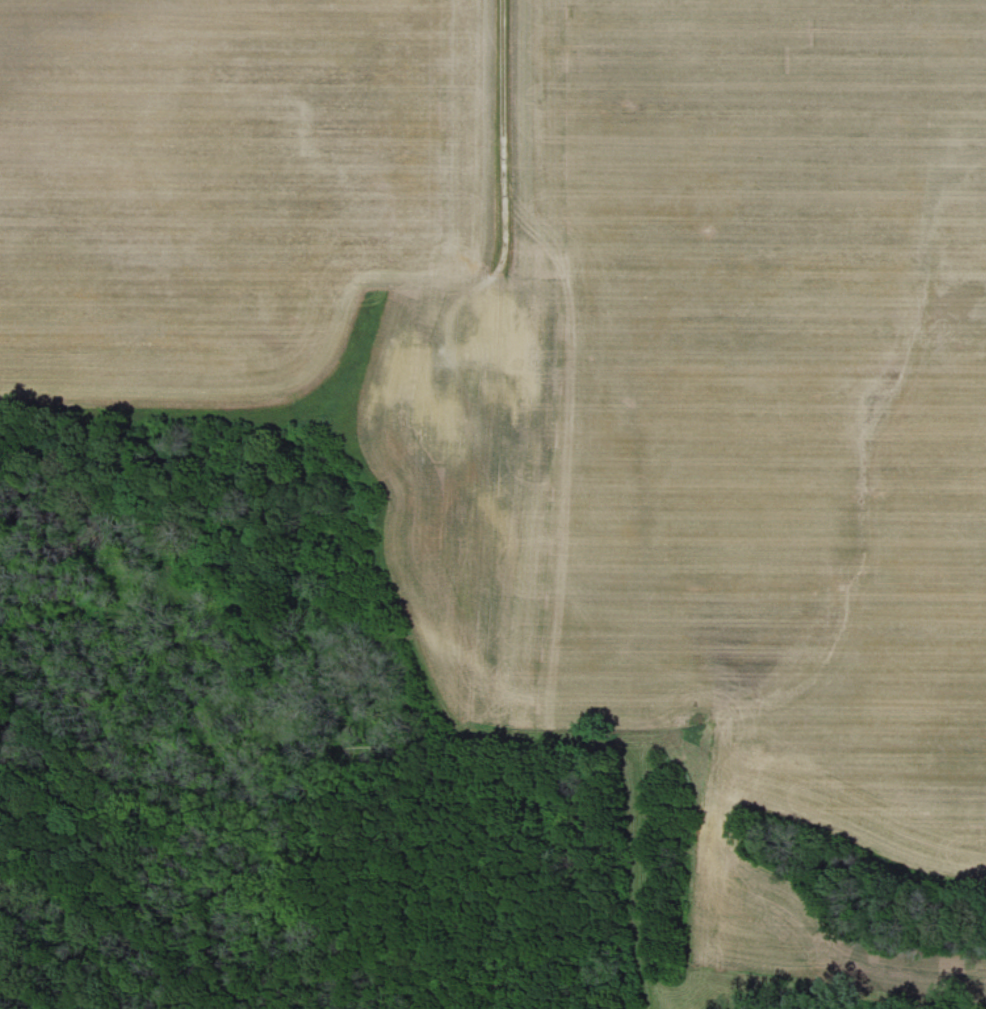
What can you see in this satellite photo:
road: (500, 215)
building: (503, 318)
building: (410, 359)

